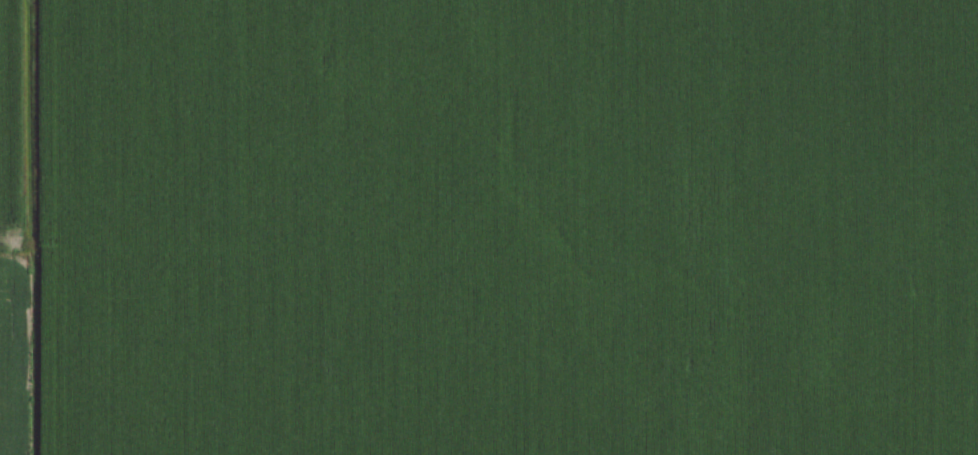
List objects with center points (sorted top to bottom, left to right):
crop: (489, 227)

